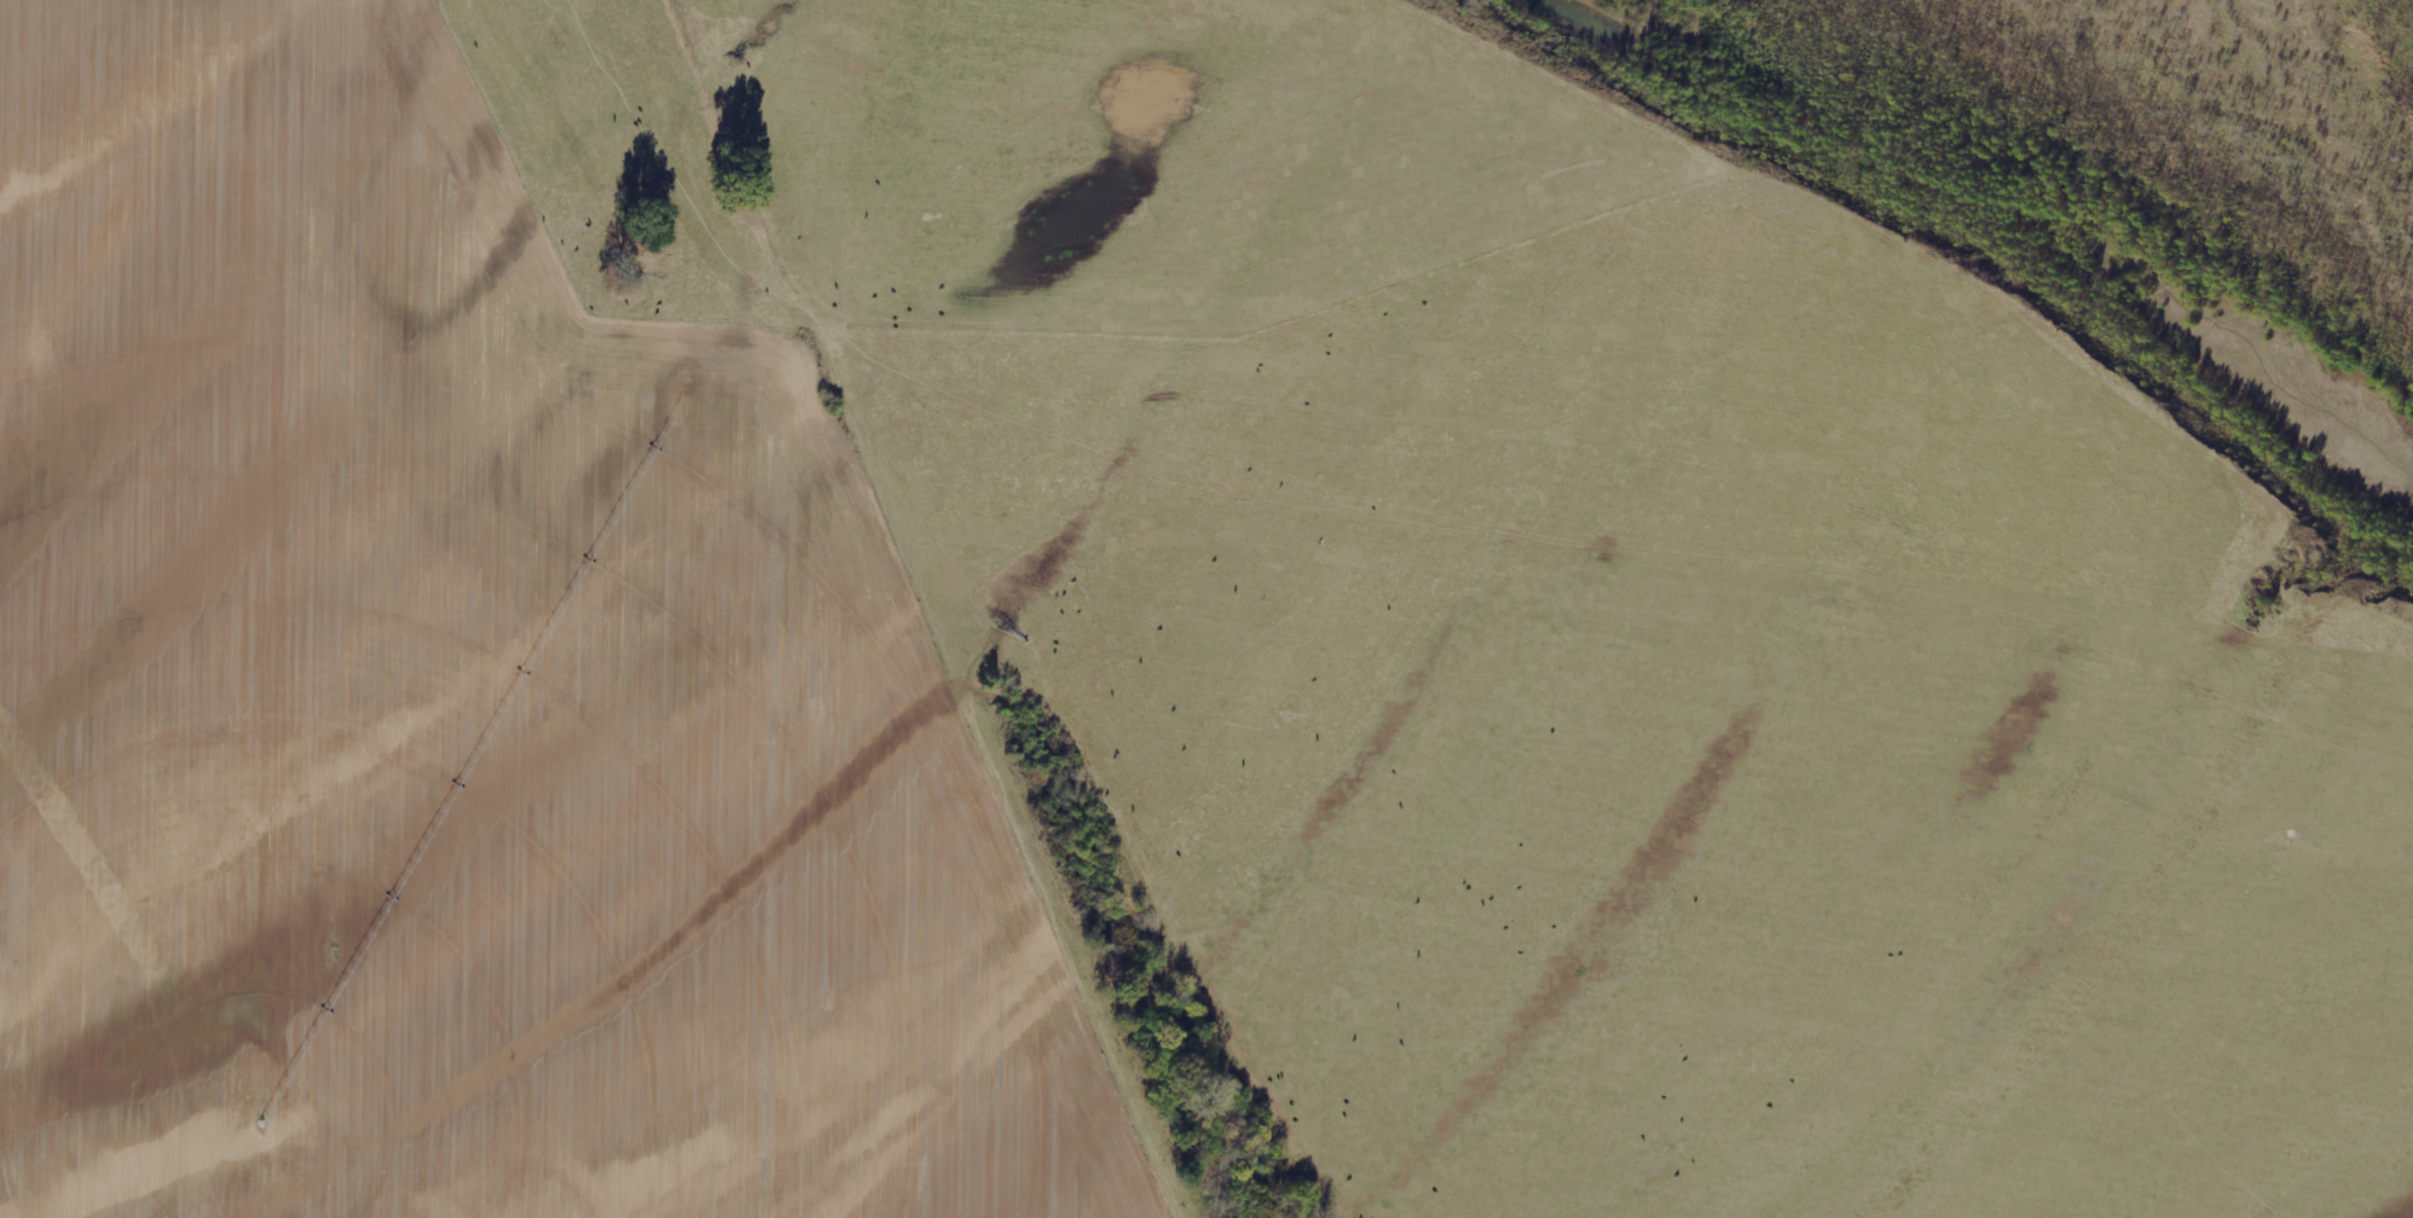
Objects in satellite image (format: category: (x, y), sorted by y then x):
river: (2267, 118)

